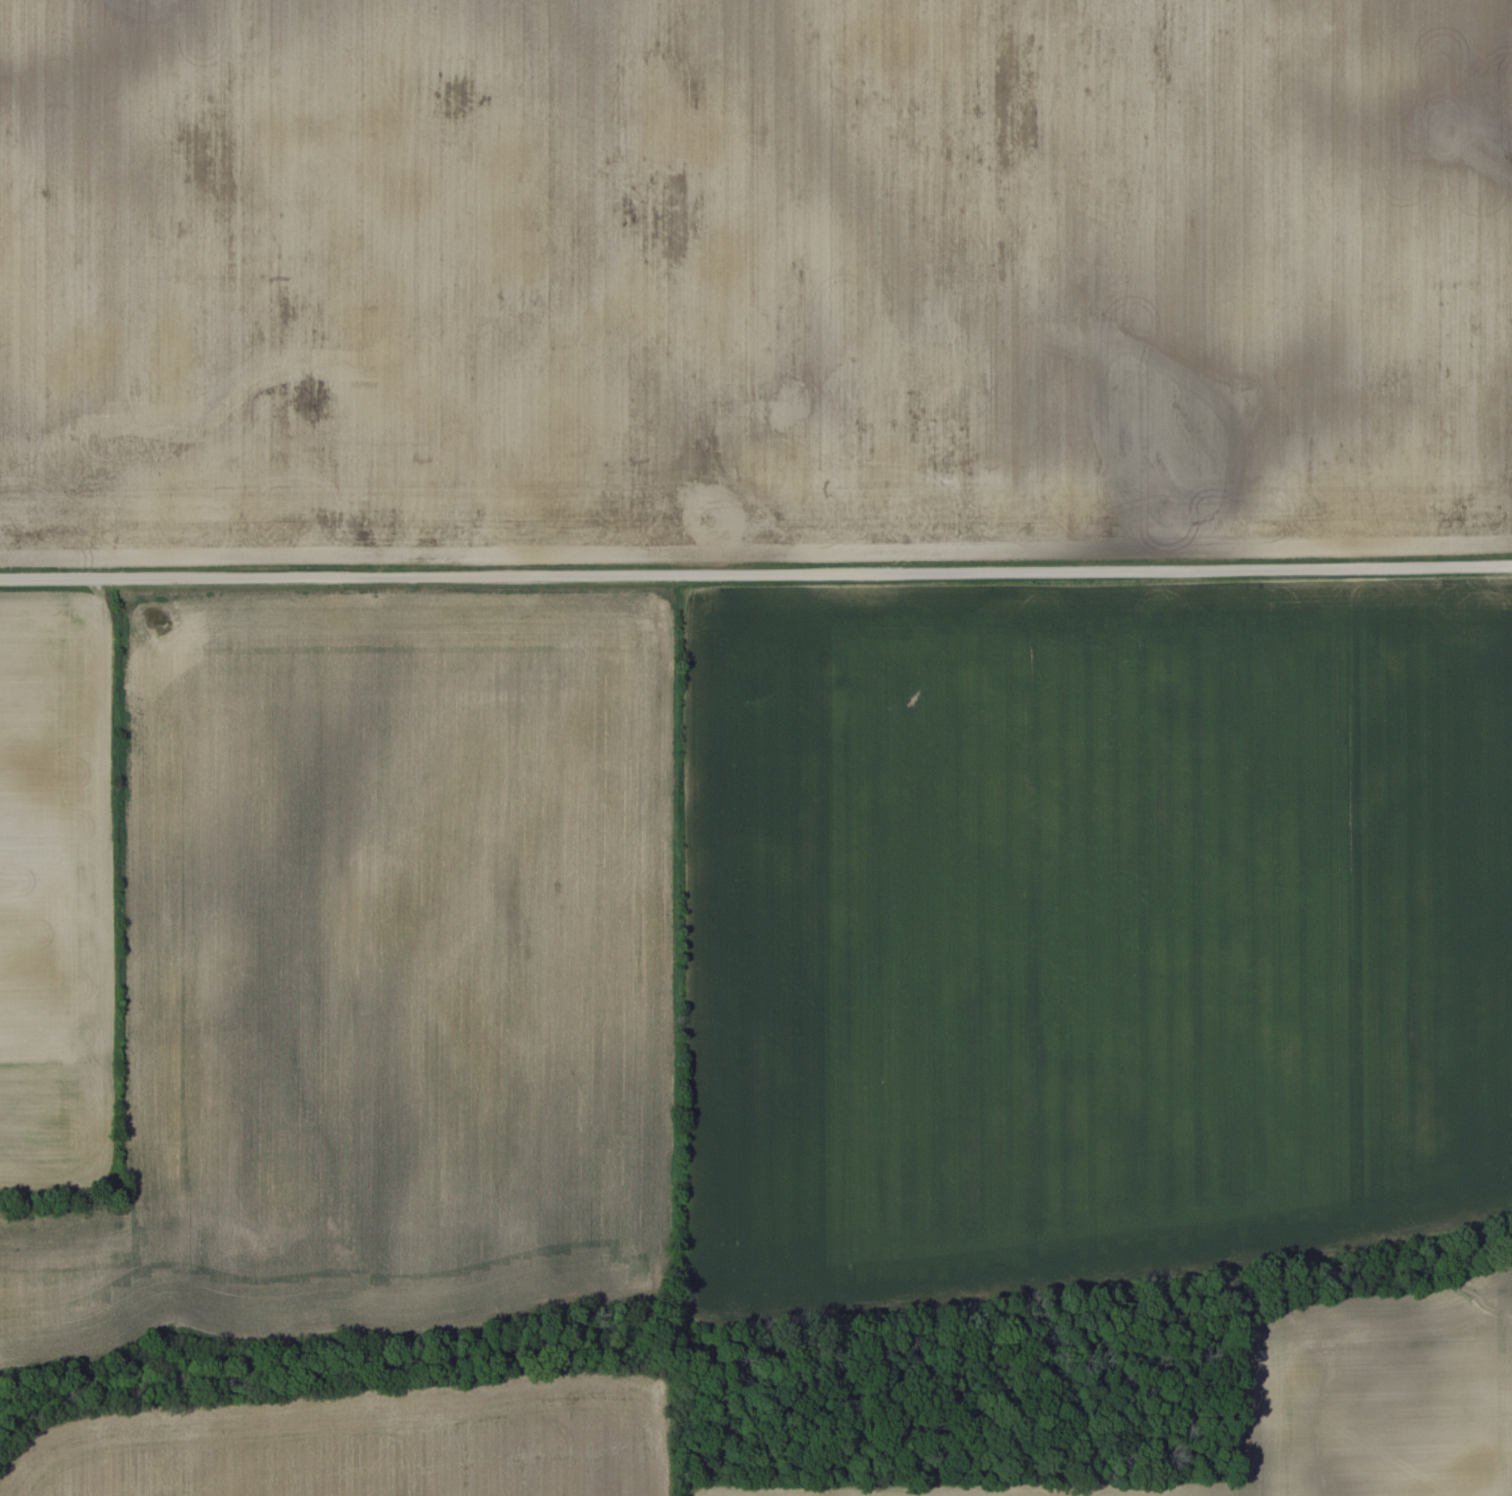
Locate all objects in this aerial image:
road: (756, 569)

